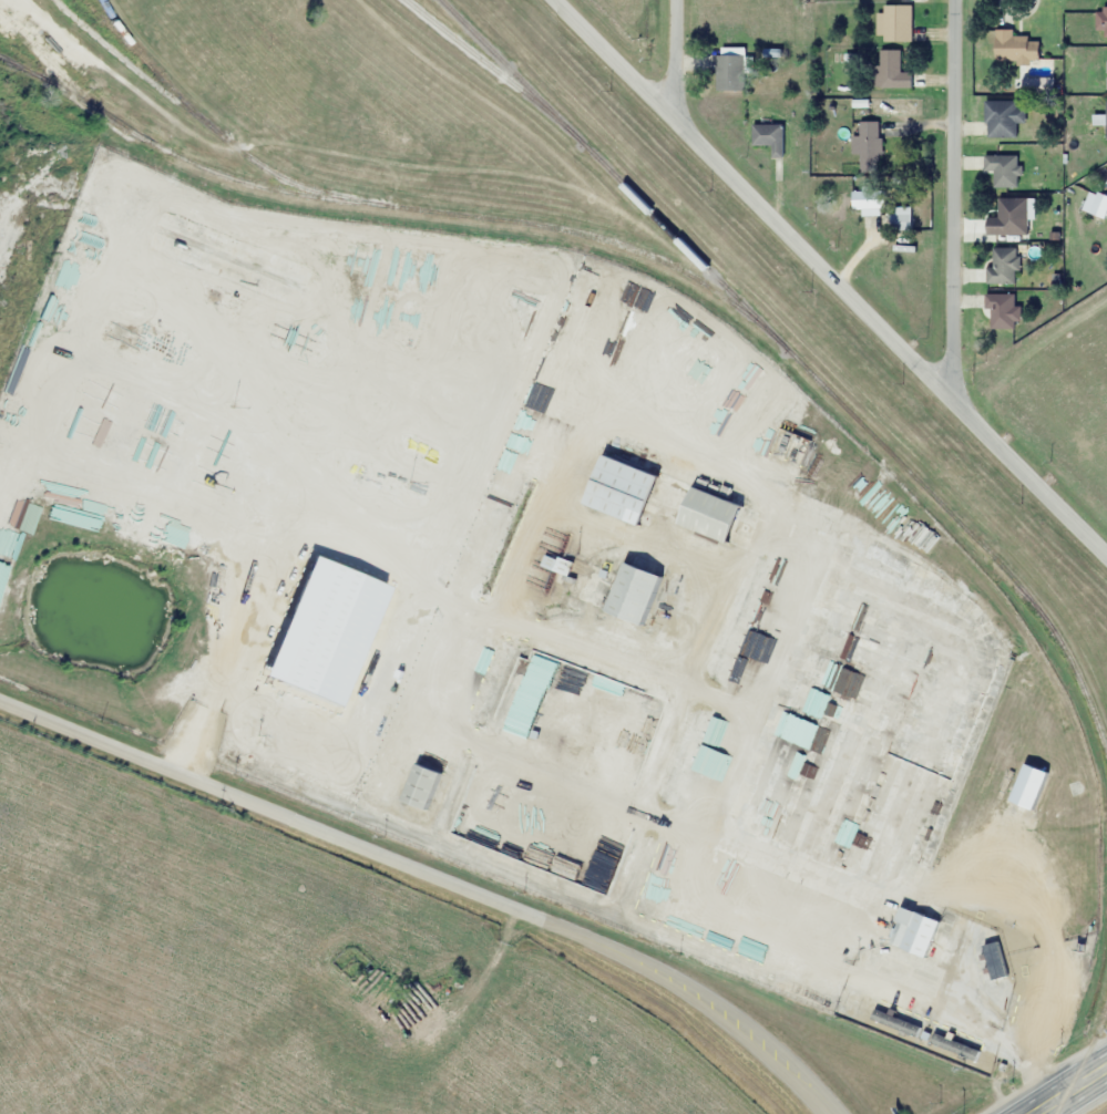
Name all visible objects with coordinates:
railway: (106, 17)
building: (898, 22)
building: (1100, 22)
building: (1015, 47)
railway: (479, 59)
road: (675, 59)
building: (730, 70)
building: (890, 70)
building: (1106, 70)
building: (1002, 117)
building: (1106, 120)
railway: (214, 124)
building: (768, 136)
building: (869, 145)
railway: (166, 146)
building: (1003, 169)
building: (864, 198)
road: (954, 198)
building: (1008, 217)
building: (900, 221)
railway: (594, 237)
building: (1003, 265)
road: (830, 278)
building: (1002, 310)
railway: (799, 359)
building: (653, 528)
building: (677, 592)
building: (252, 609)
building: (586, 683)
building: (631, 757)
building: (722, 770)
building: (419, 786)
building: (1028, 786)
building: (602, 791)
building: (540, 812)
building: (615, 812)
building: (677, 857)
road: (434, 874)
building: (913, 932)
building: (1012, 948)
railway: (1078, 1045)
road: (1069, 1090)

